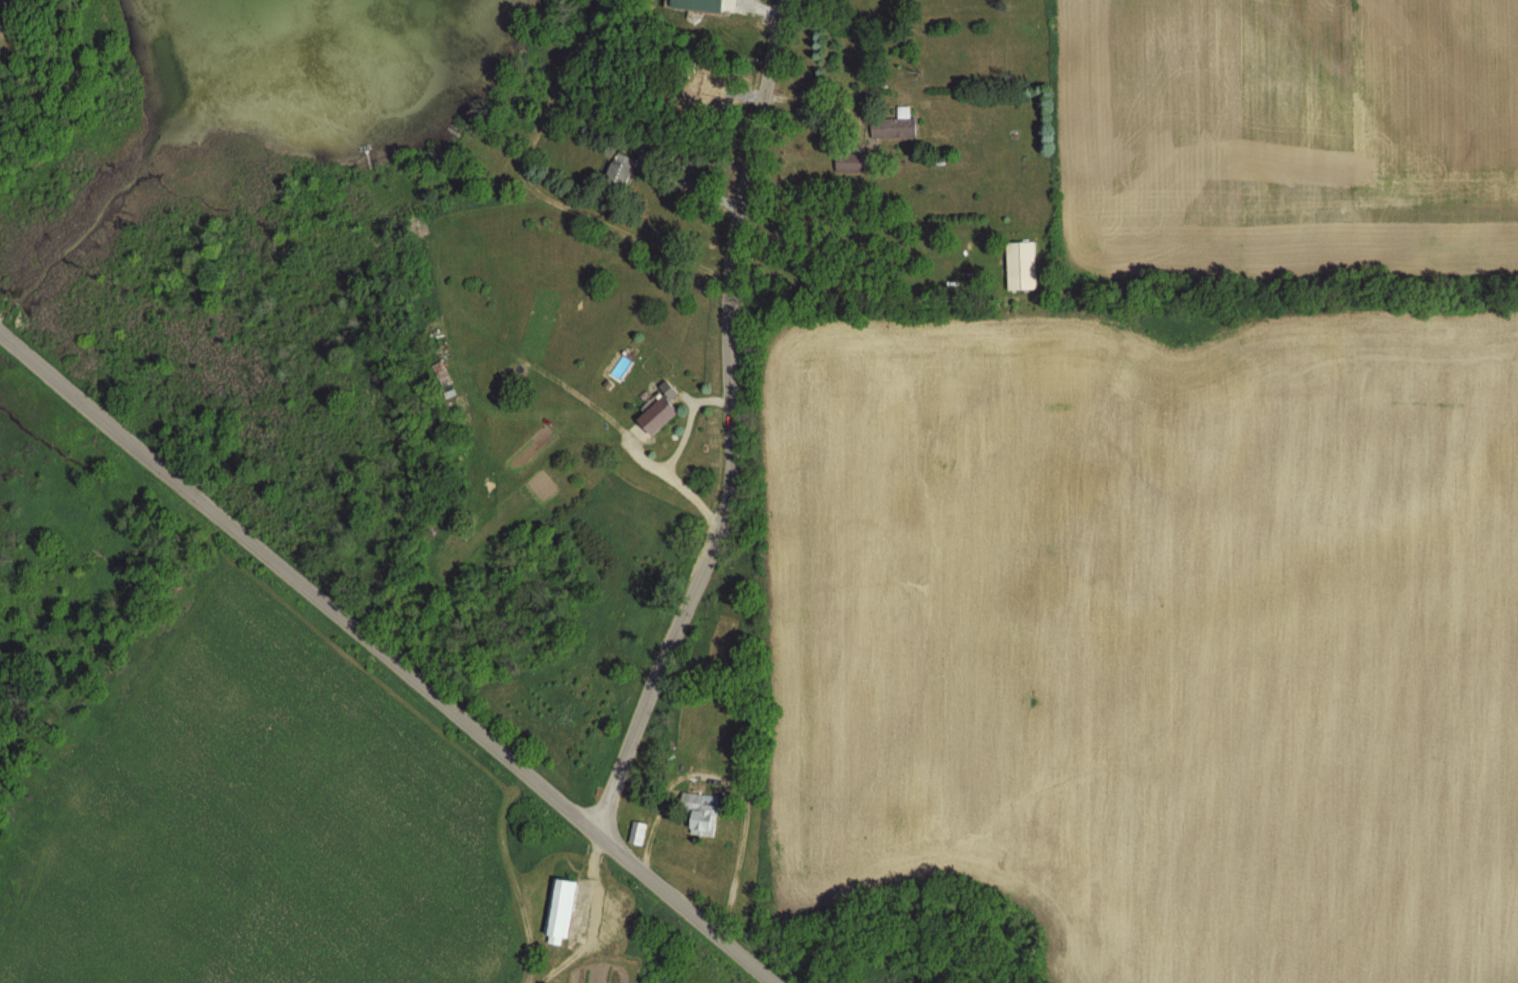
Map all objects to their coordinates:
building: (892, 126)
building: (847, 163)
building: (618, 169)
building: (1019, 265)
building: (653, 416)
road: (729, 425)
building: (429, 550)
road: (387, 657)
building: (699, 813)
building: (637, 834)
building: (558, 909)

